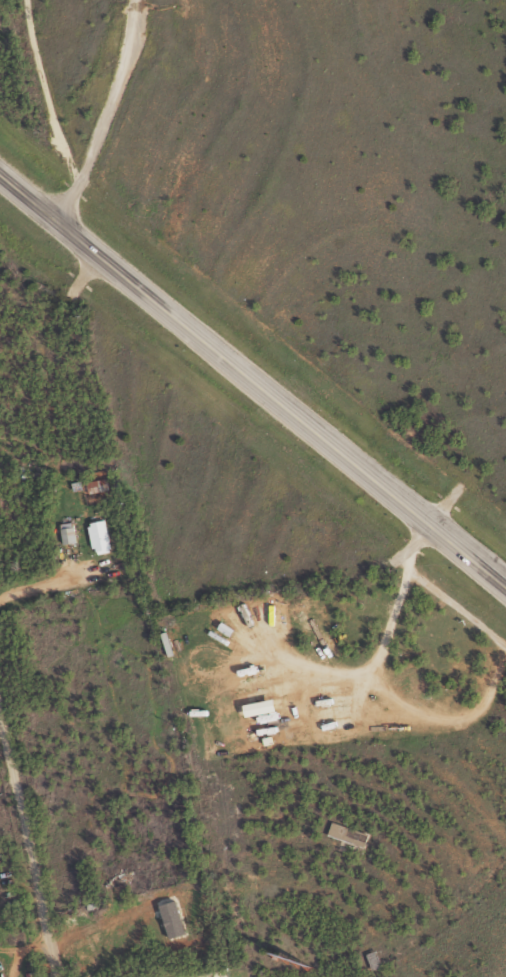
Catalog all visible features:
road: (252, 382)
building: (70, 533)
building: (100, 537)
building: (265, 707)
building: (350, 834)
road: (30, 841)

